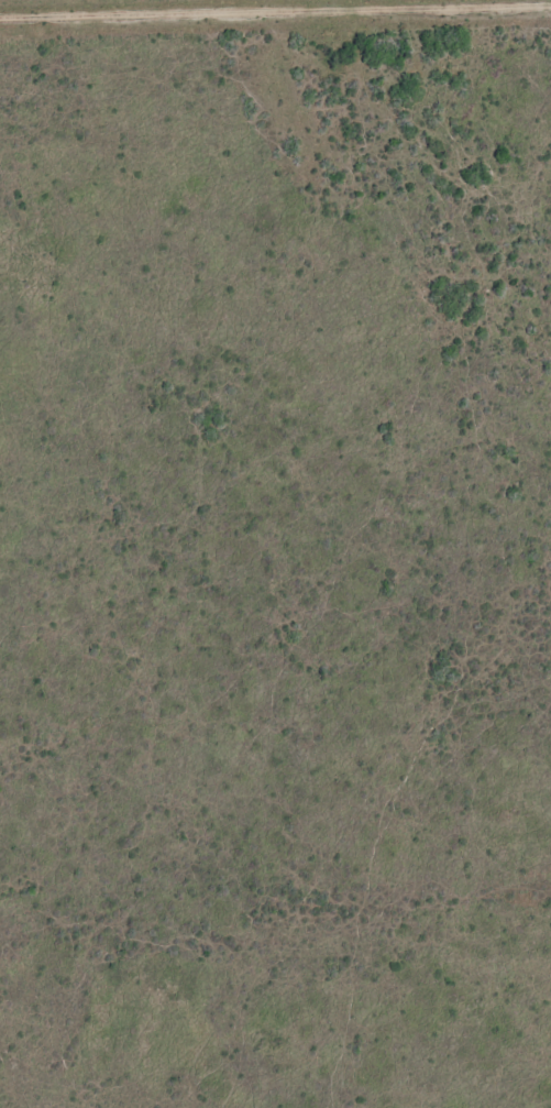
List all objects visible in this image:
road: (275, 7)

